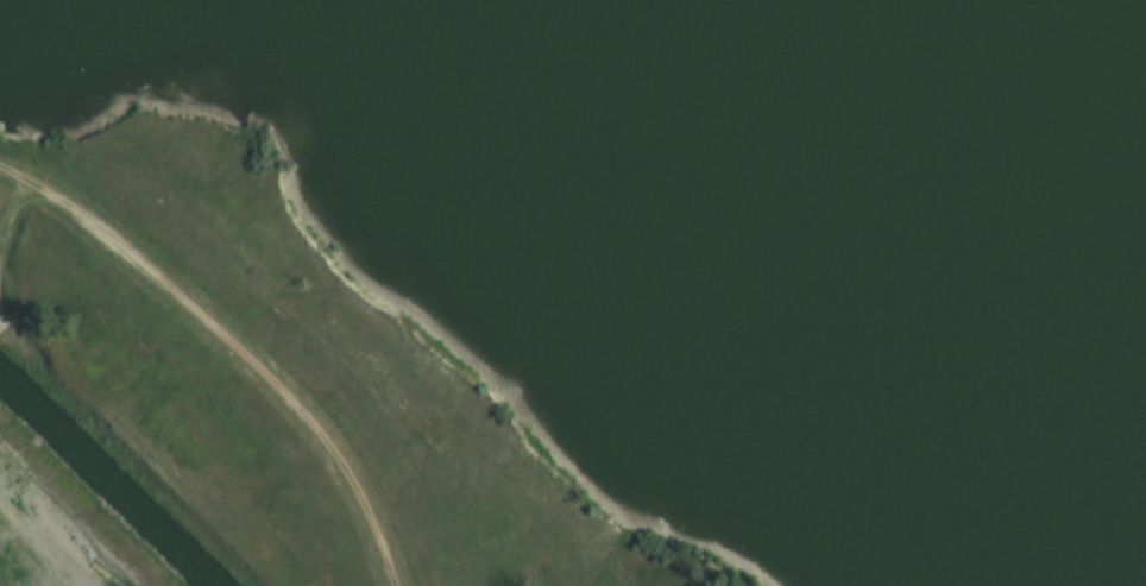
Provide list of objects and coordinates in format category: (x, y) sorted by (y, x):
road: (229, 351)

